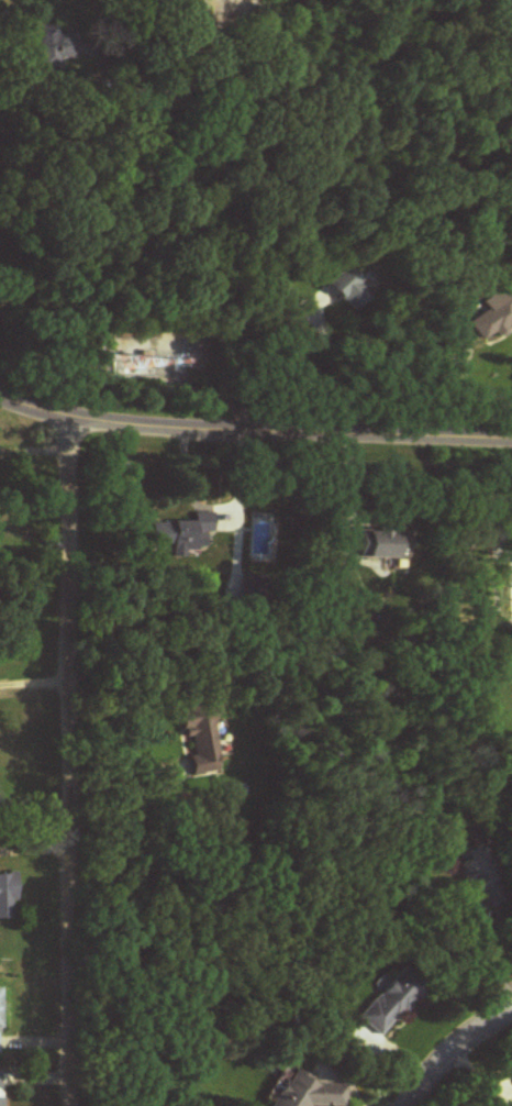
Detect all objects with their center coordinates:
building: (257, 20)
building: (54, 47)
road: (119, 71)
road: (110, 197)
building: (345, 288)
building: (489, 316)
road: (340, 361)
road: (254, 428)
building: (181, 534)
building: (379, 545)
building: (198, 741)
road: (70, 763)
road: (118, 831)
building: (476, 875)
building: (7, 897)
road: (487, 958)
building: (390, 1003)
building: (0, 1021)
road: (454, 1052)
building: (0, 1088)
building: (309, 1092)

